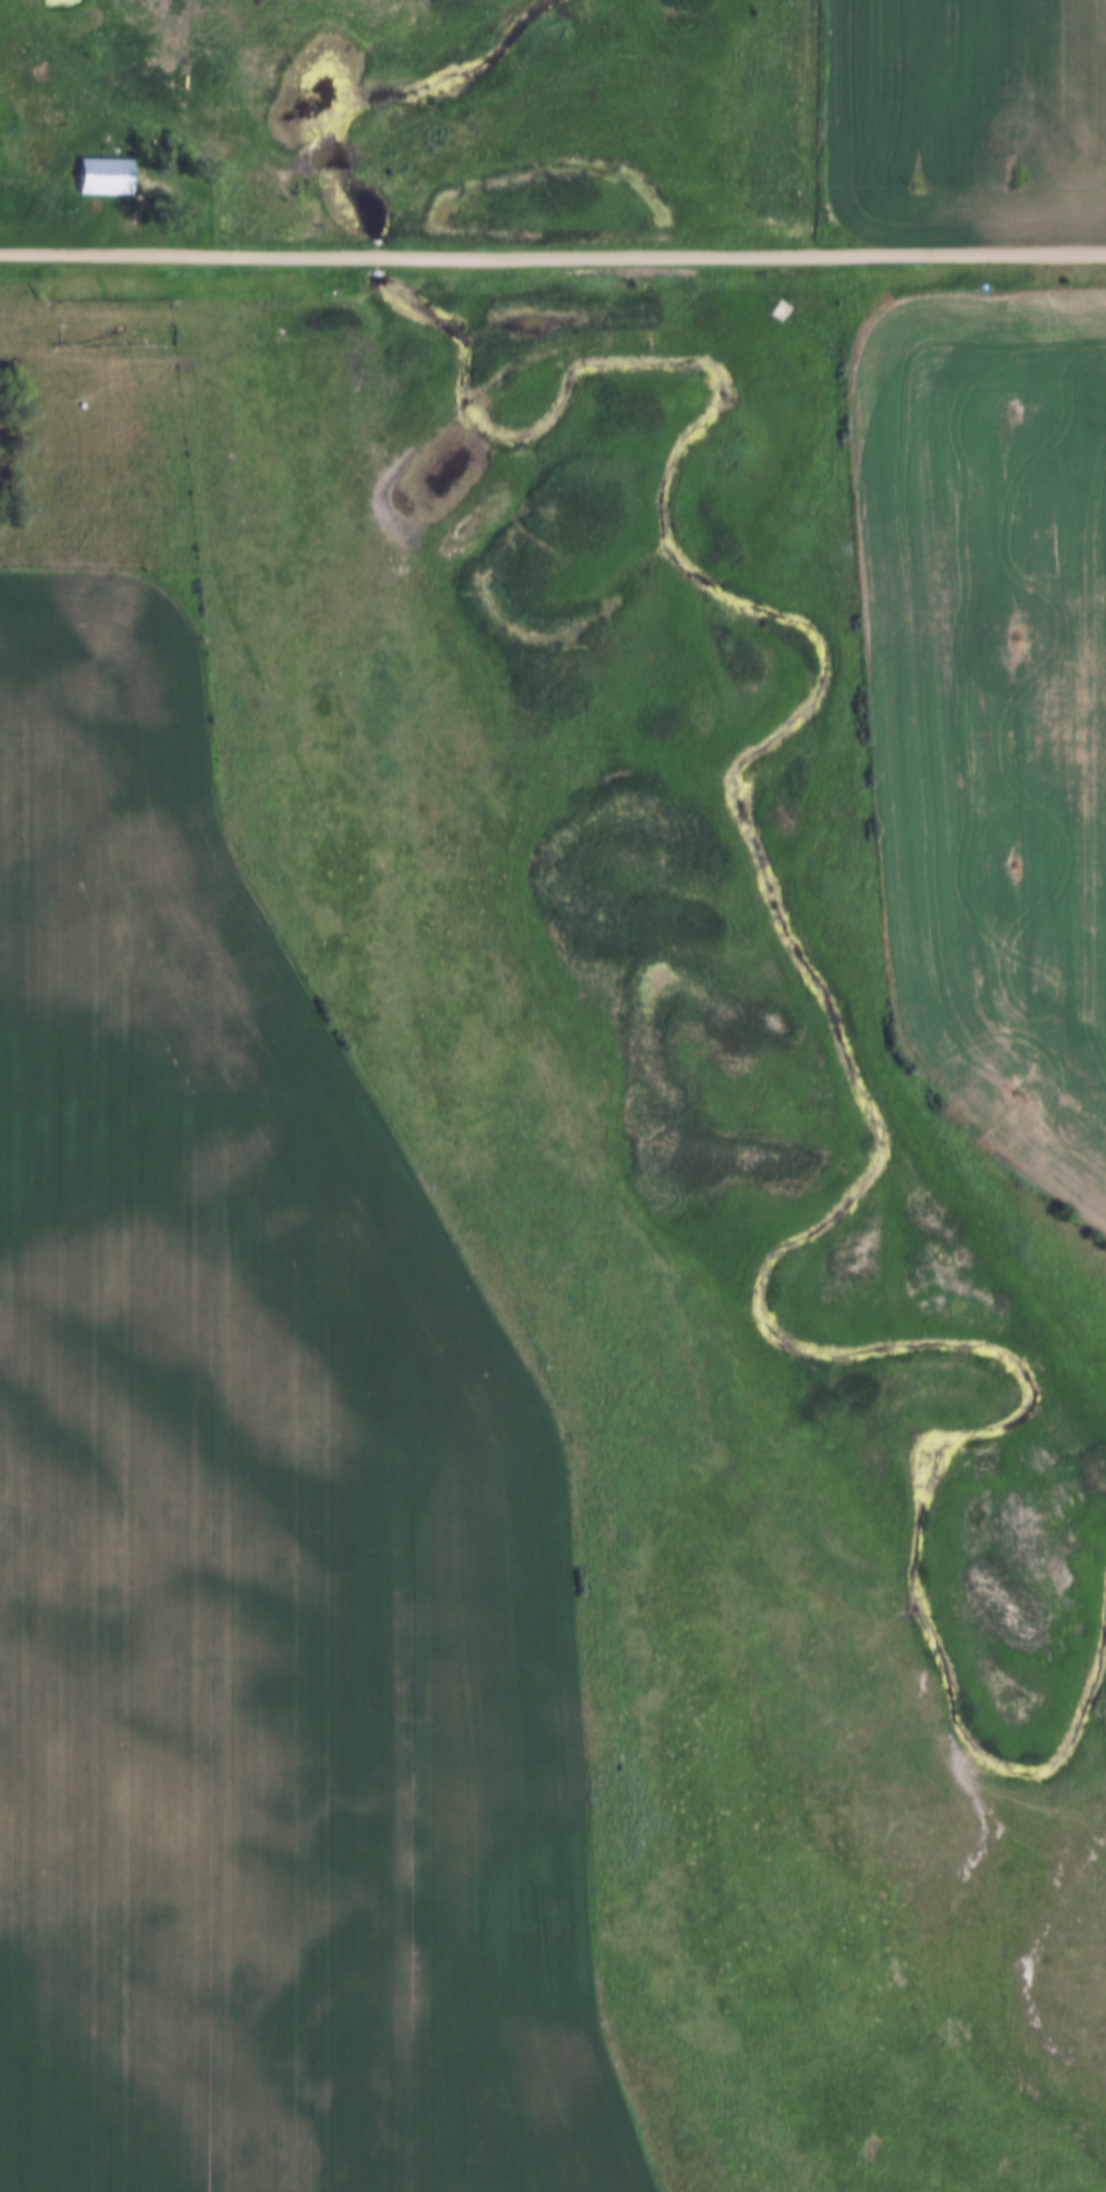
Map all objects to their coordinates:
building: (105, 180)
road: (552, 257)

